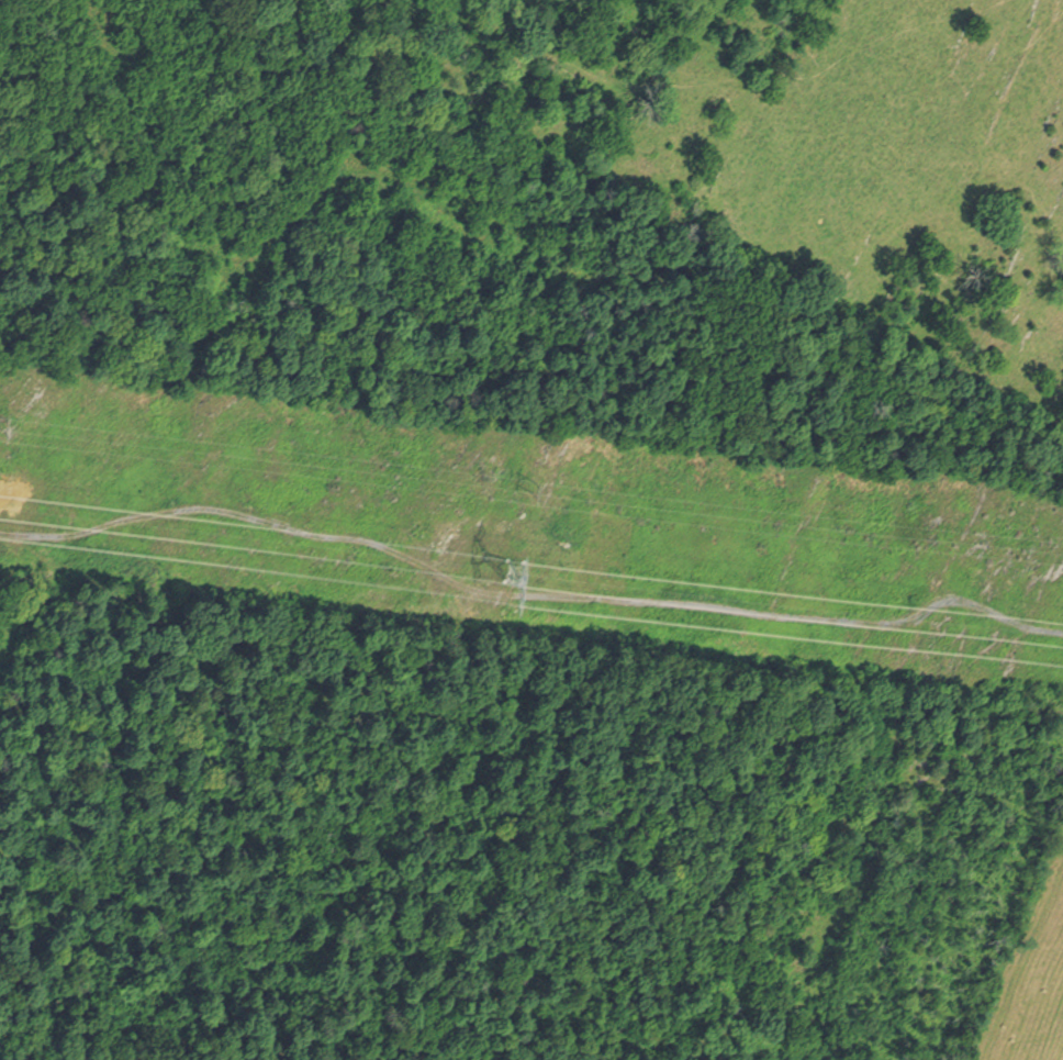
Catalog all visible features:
power tower: (18, 419)
power tower: (535, 476)
power tower: (468, 542)

